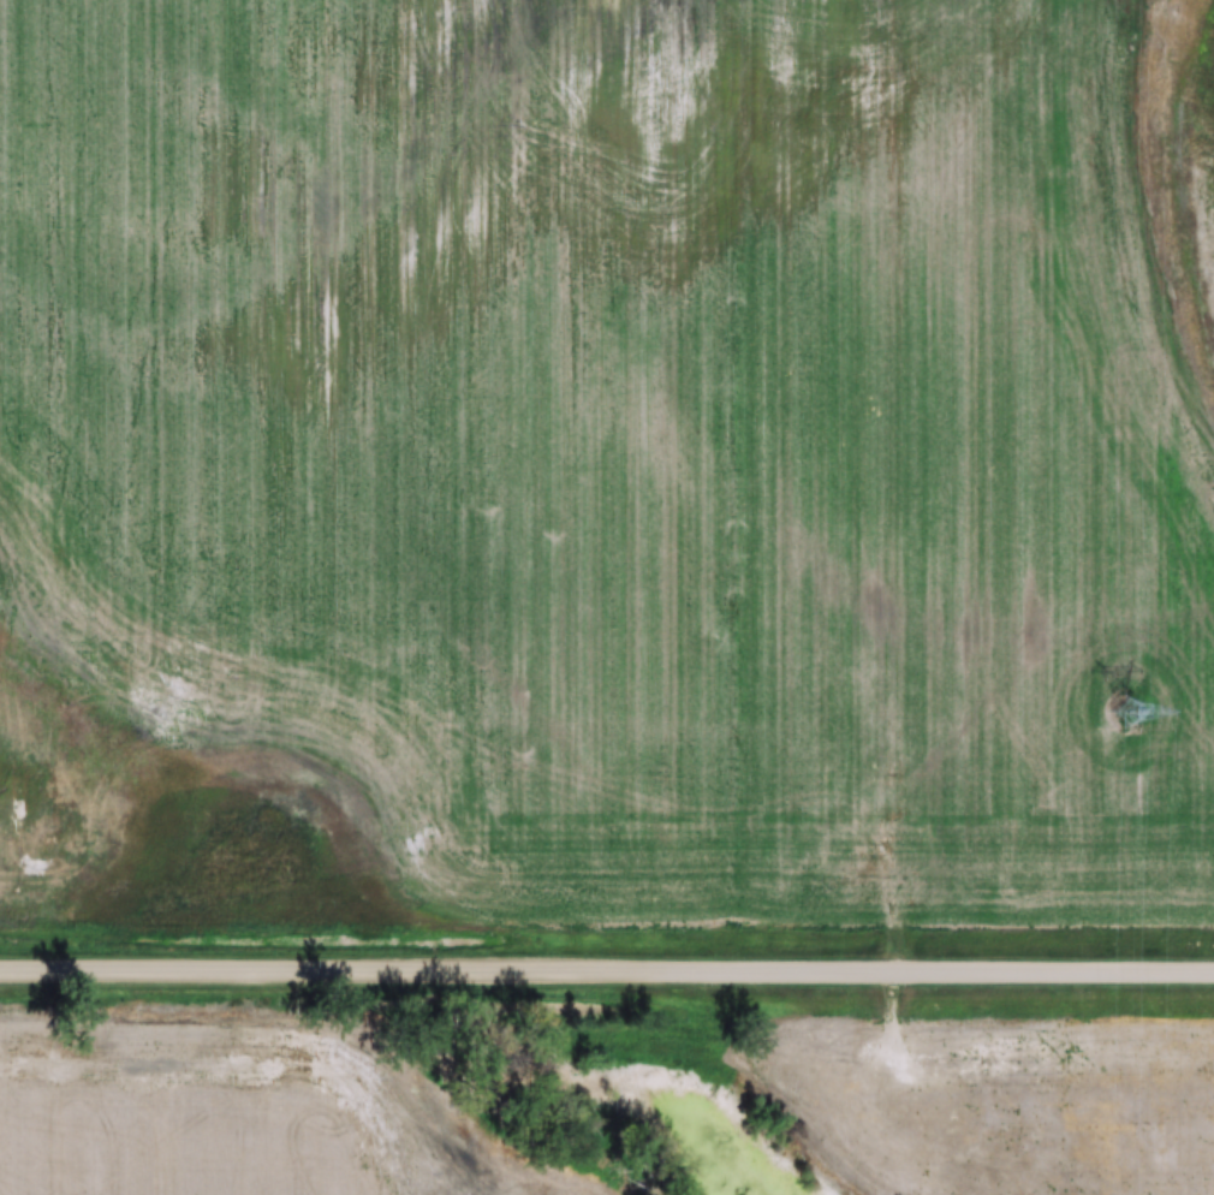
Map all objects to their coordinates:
power tower: (1125, 713)
road: (607, 971)

